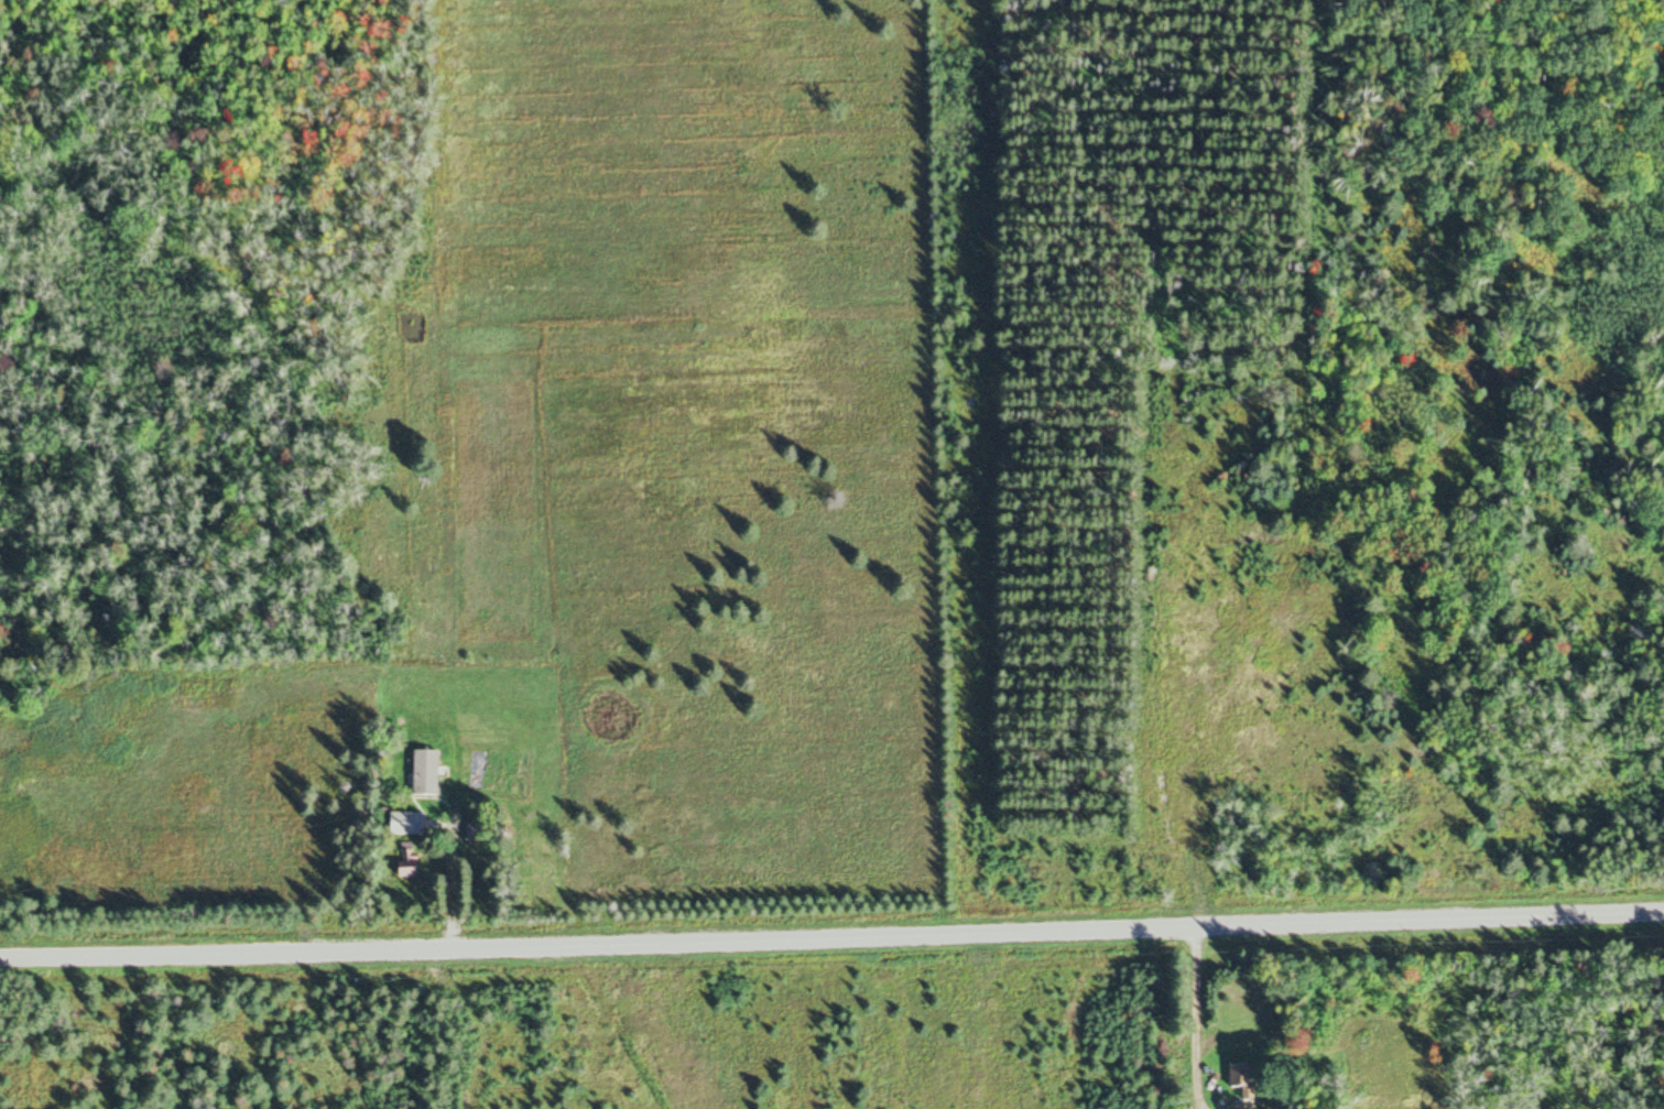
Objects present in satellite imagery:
building: (426, 771)
building: (406, 822)
building: (407, 858)
road: (831, 926)
building: (1242, 1077)
building: (1244, 1106)

